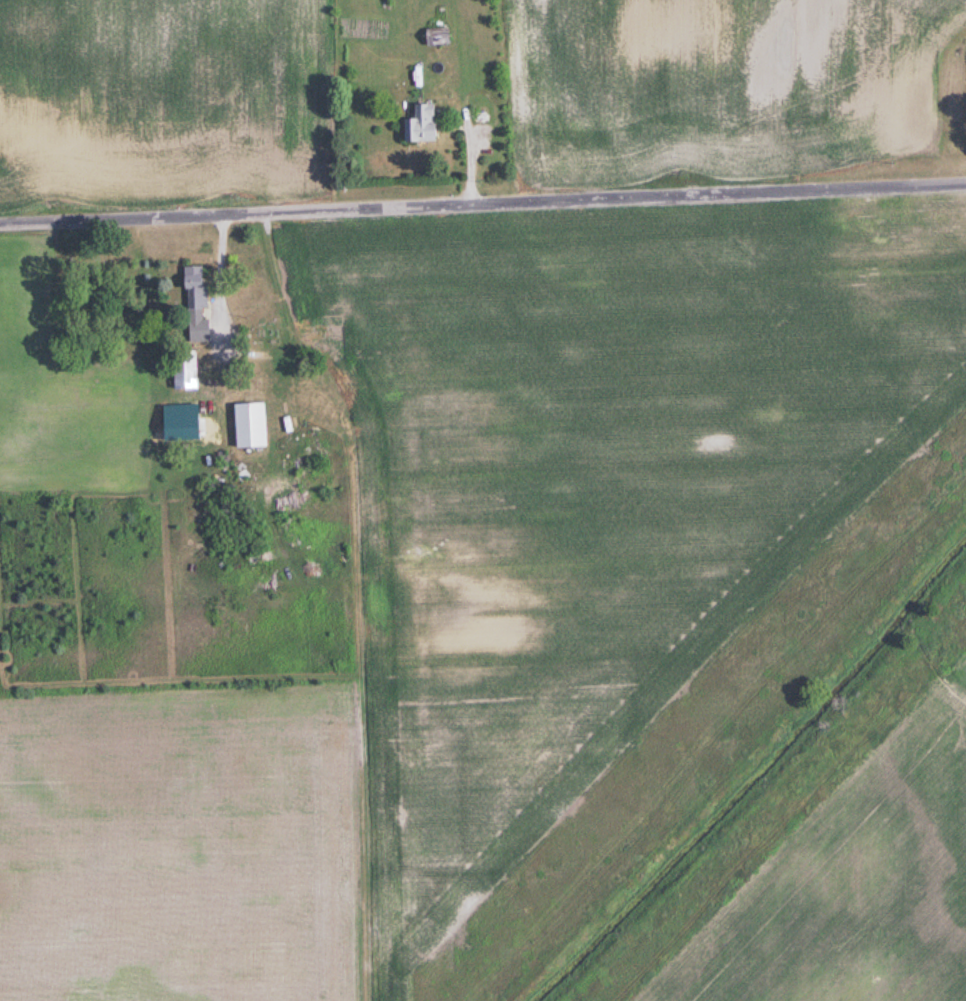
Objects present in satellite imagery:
building: (434, 37)
building: (417, 125)
road: (483, 203)
road: (221, 280)
building: (192, 302)
building: (181, 370)
building: (247, 425)

